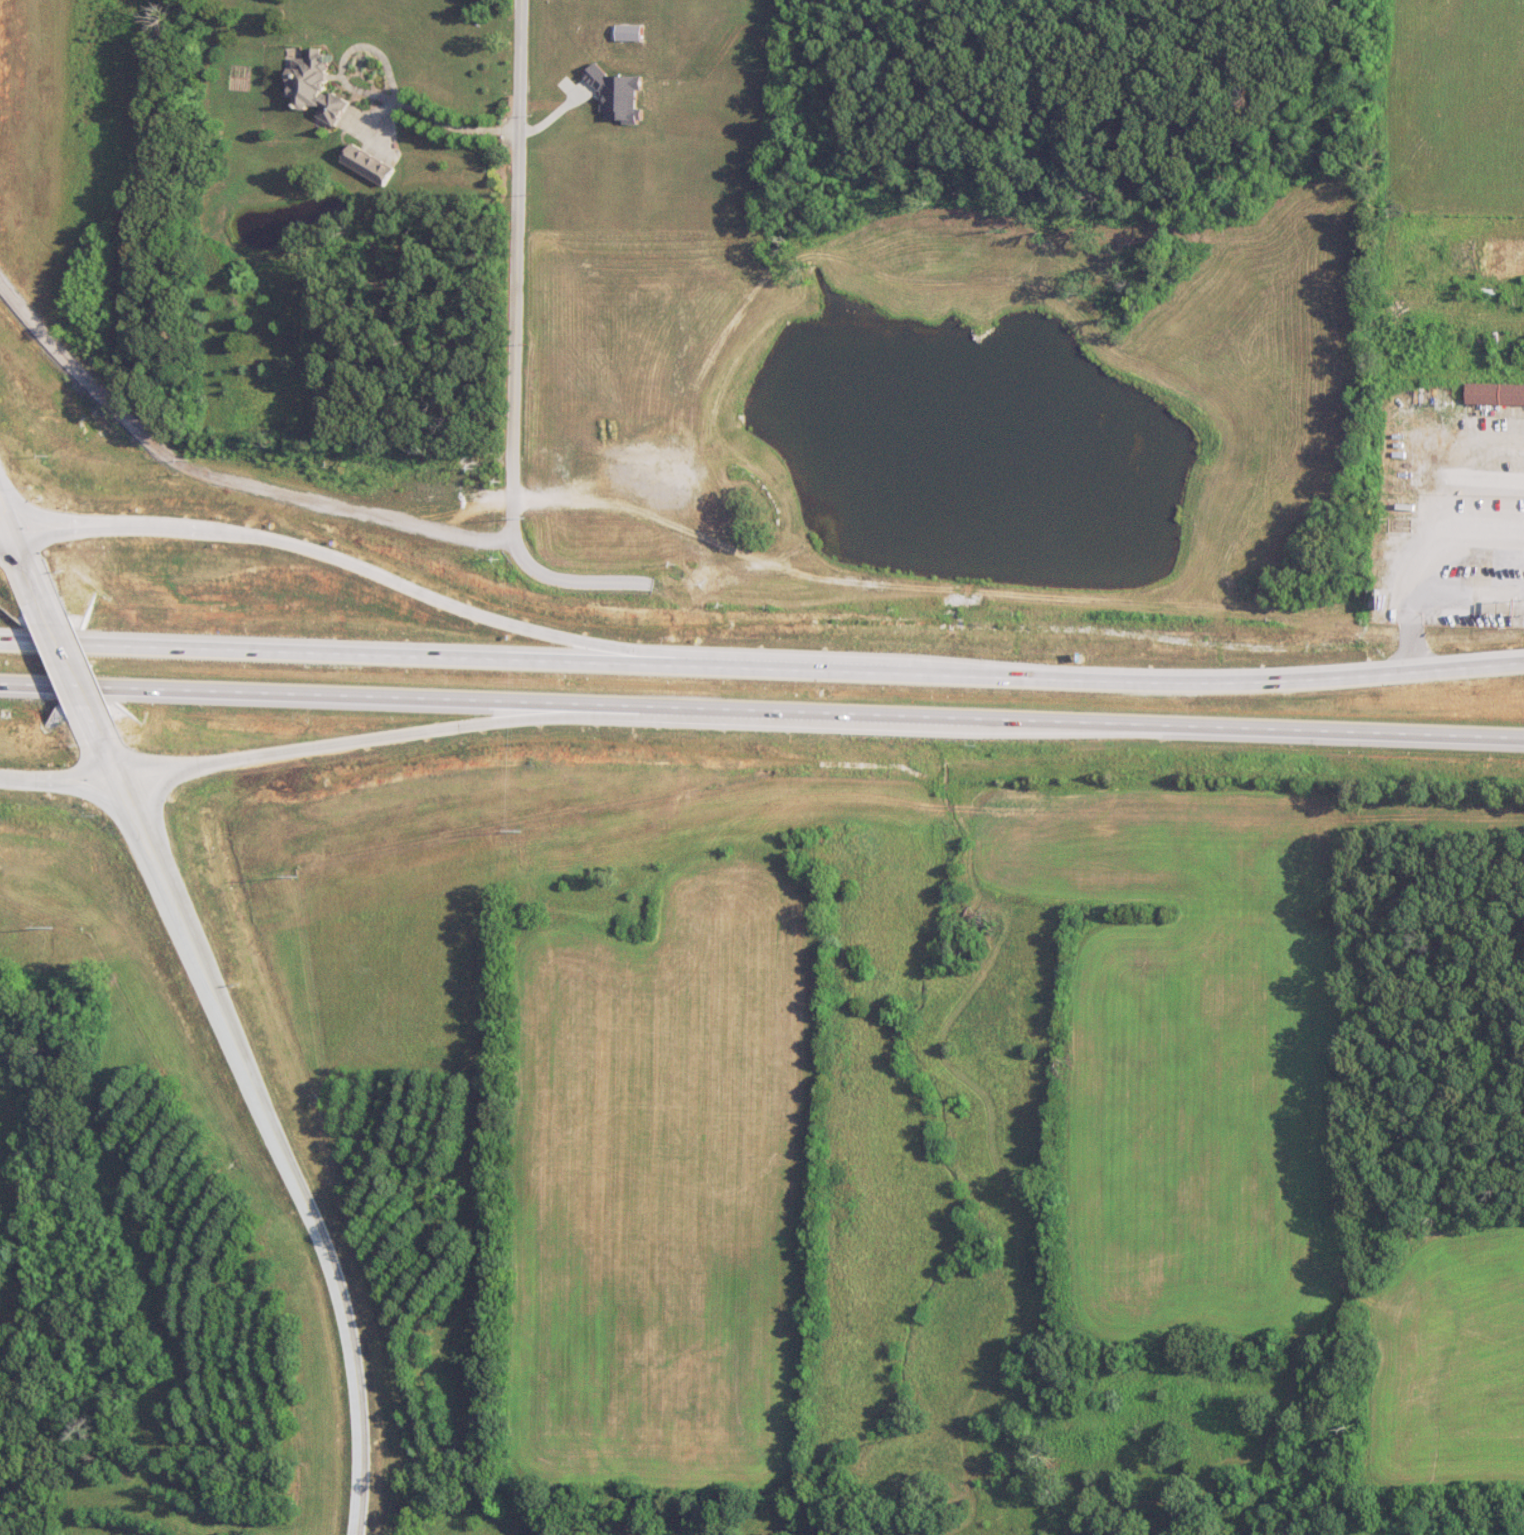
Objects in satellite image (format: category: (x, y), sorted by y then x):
road: (345, 54)
road: (452, 128)
road: (516, 348)
building: (1496, 394)
road: (221, 477)
road: (9, 519)
road: (350, 565)
road: (35, 578)
road: (1463, 590)
road: (1406, 641)
road: (71, 664)
road: (762, 668)
road: (762, 705)
road: (373, 736)
road: (108, 745)
road: (59, 782)
building: (569, 857)
road: (286, 1147)

